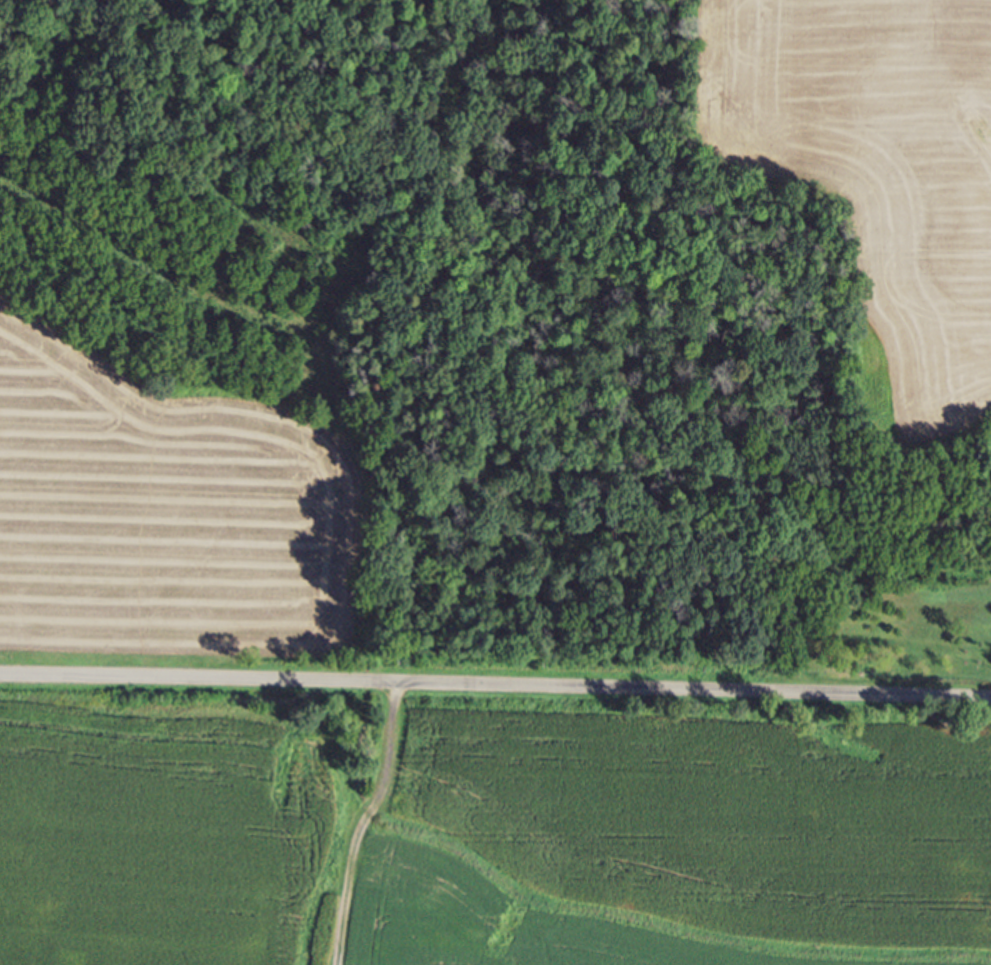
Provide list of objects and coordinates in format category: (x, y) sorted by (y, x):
road: (495, 683)

